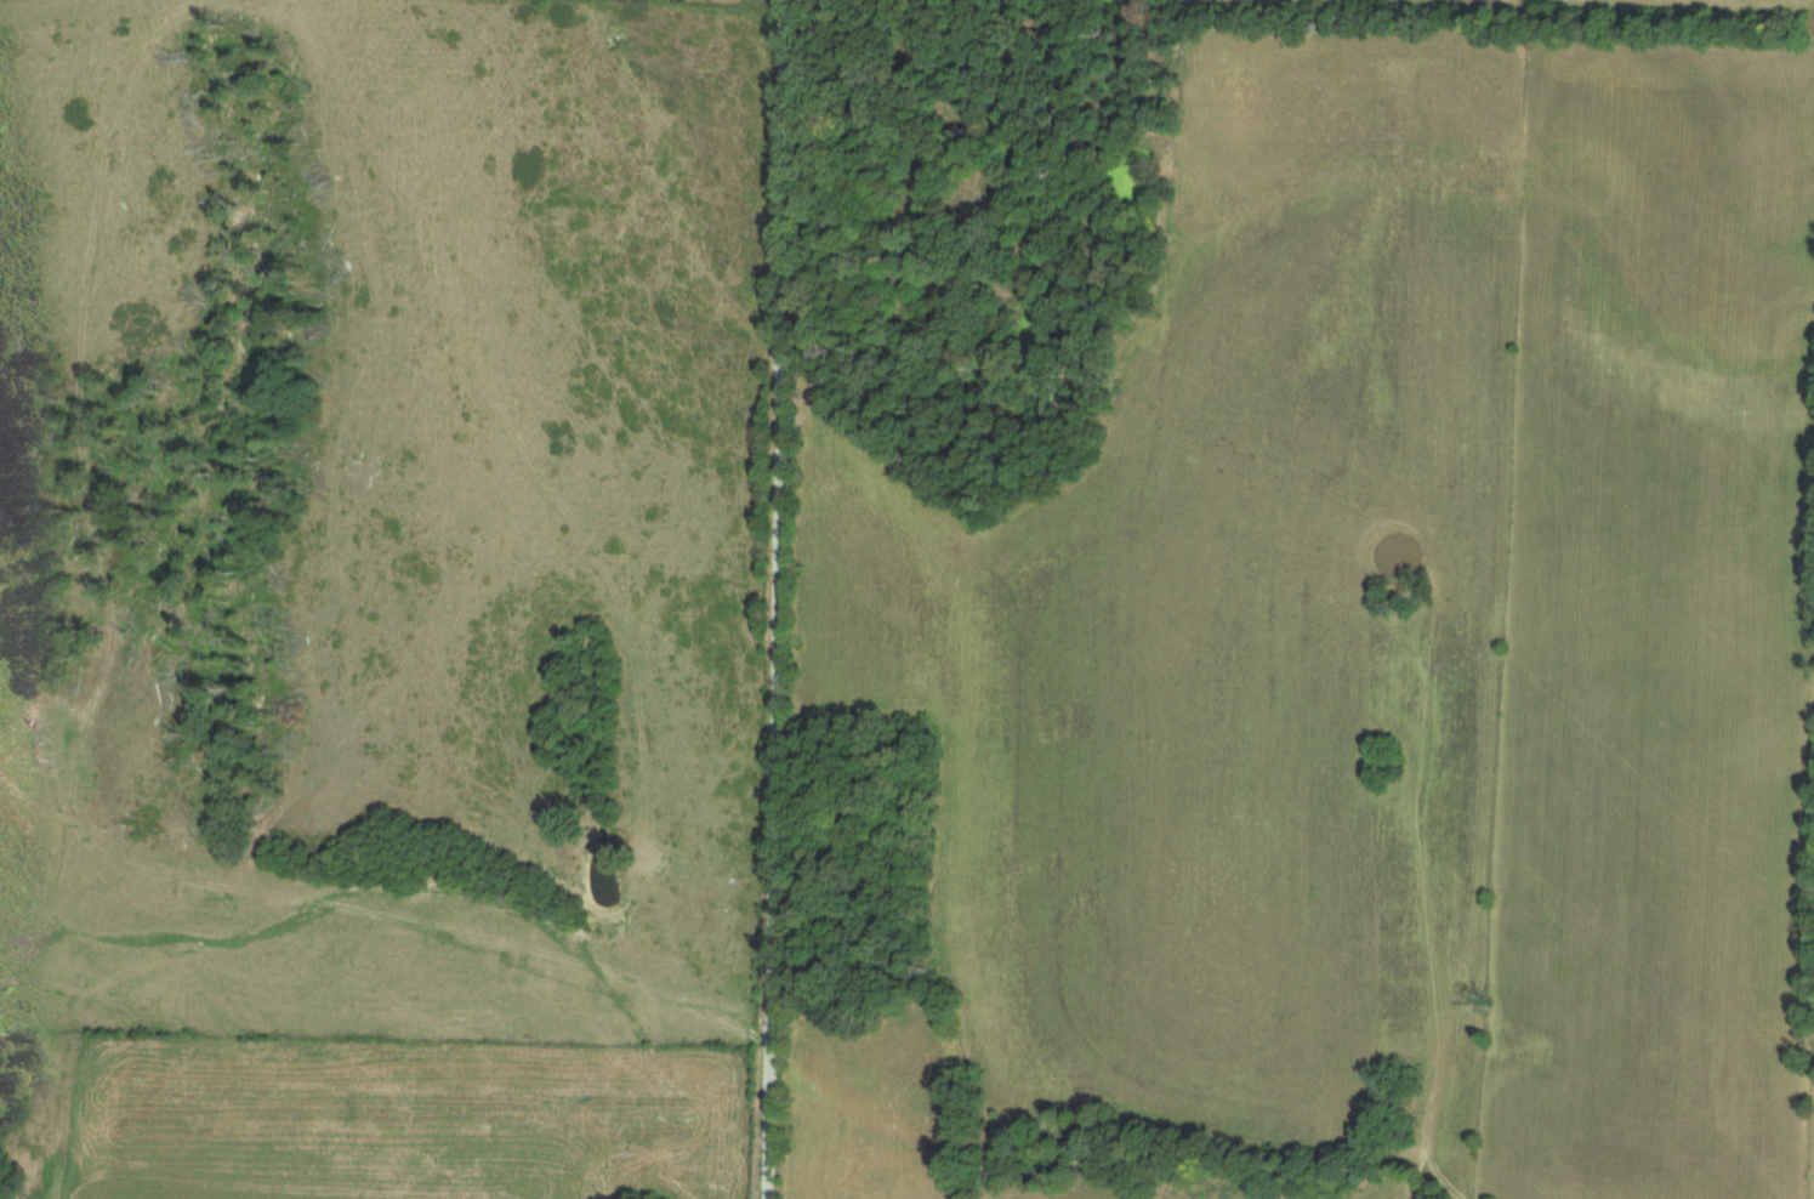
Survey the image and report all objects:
road: (772, 599)

